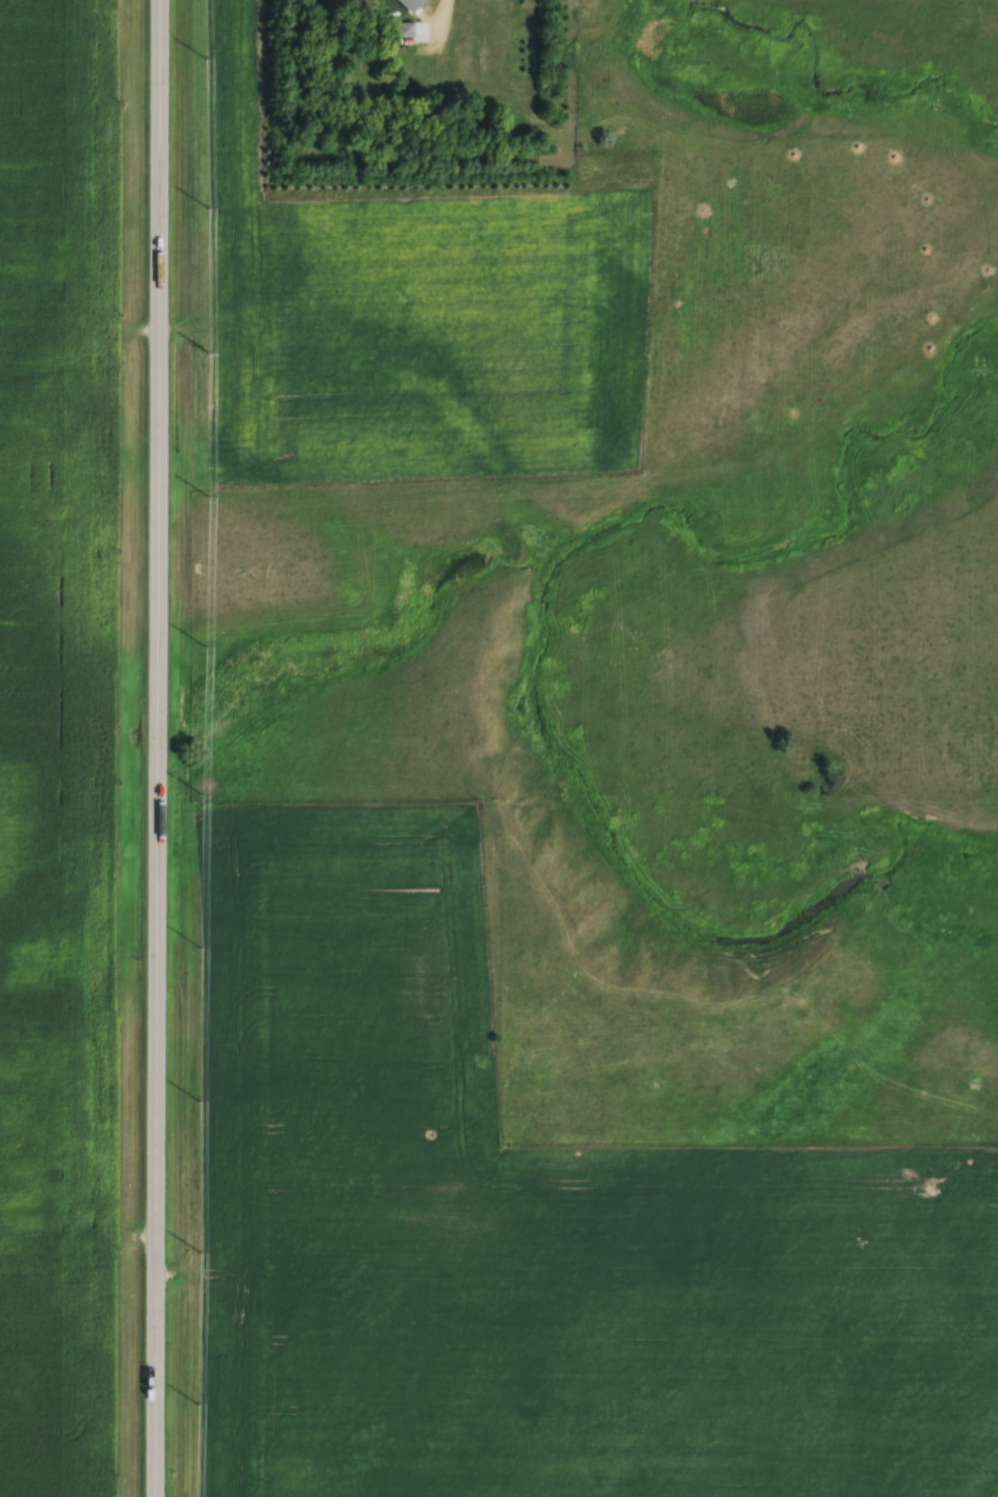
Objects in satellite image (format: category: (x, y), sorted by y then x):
building: (408, 31)
road: (164, 748)

